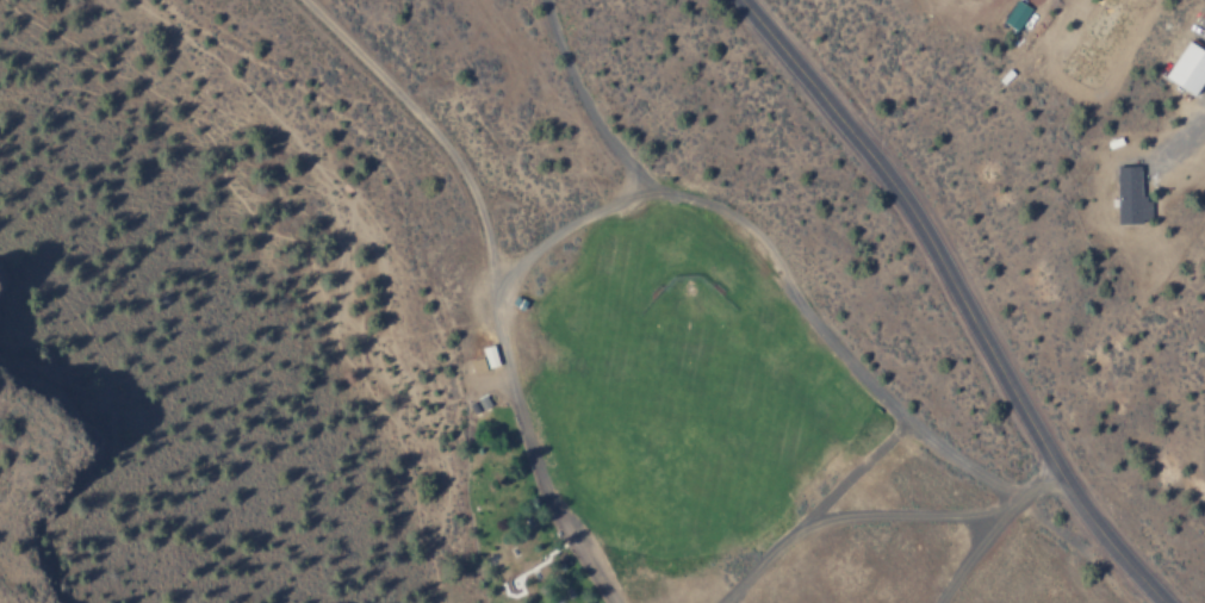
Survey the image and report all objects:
building: (1015, 14)
building: (1186, 67)
building: (1129, 195)
road: (957, 294)

